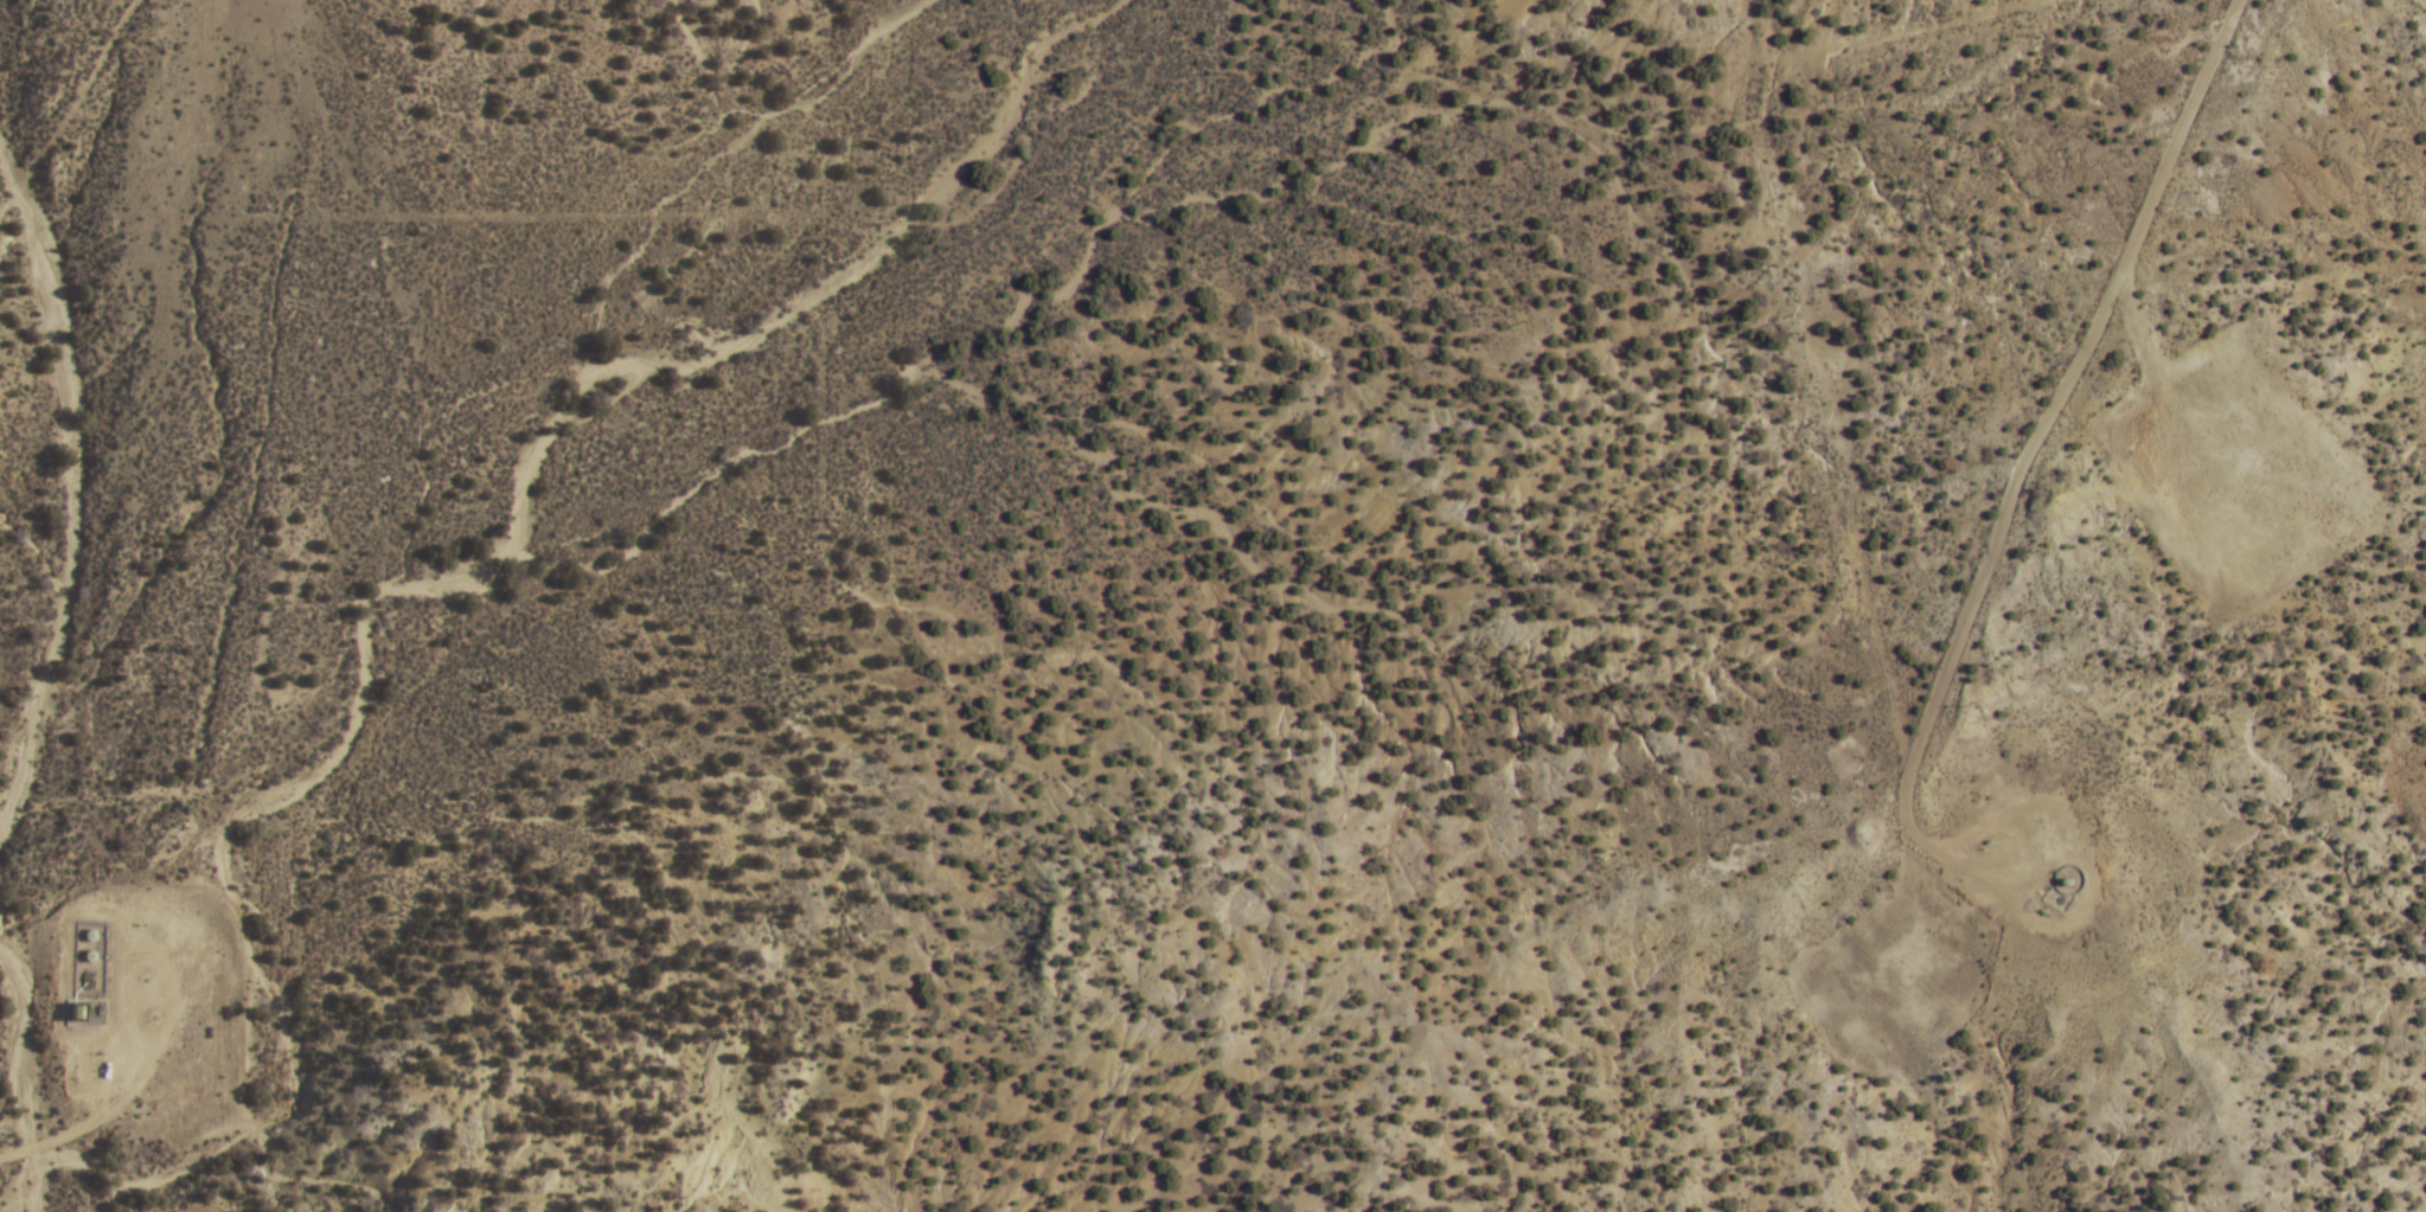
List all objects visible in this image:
road: (2034, 448)
river: (53, 474)
river: (39, 1070)

